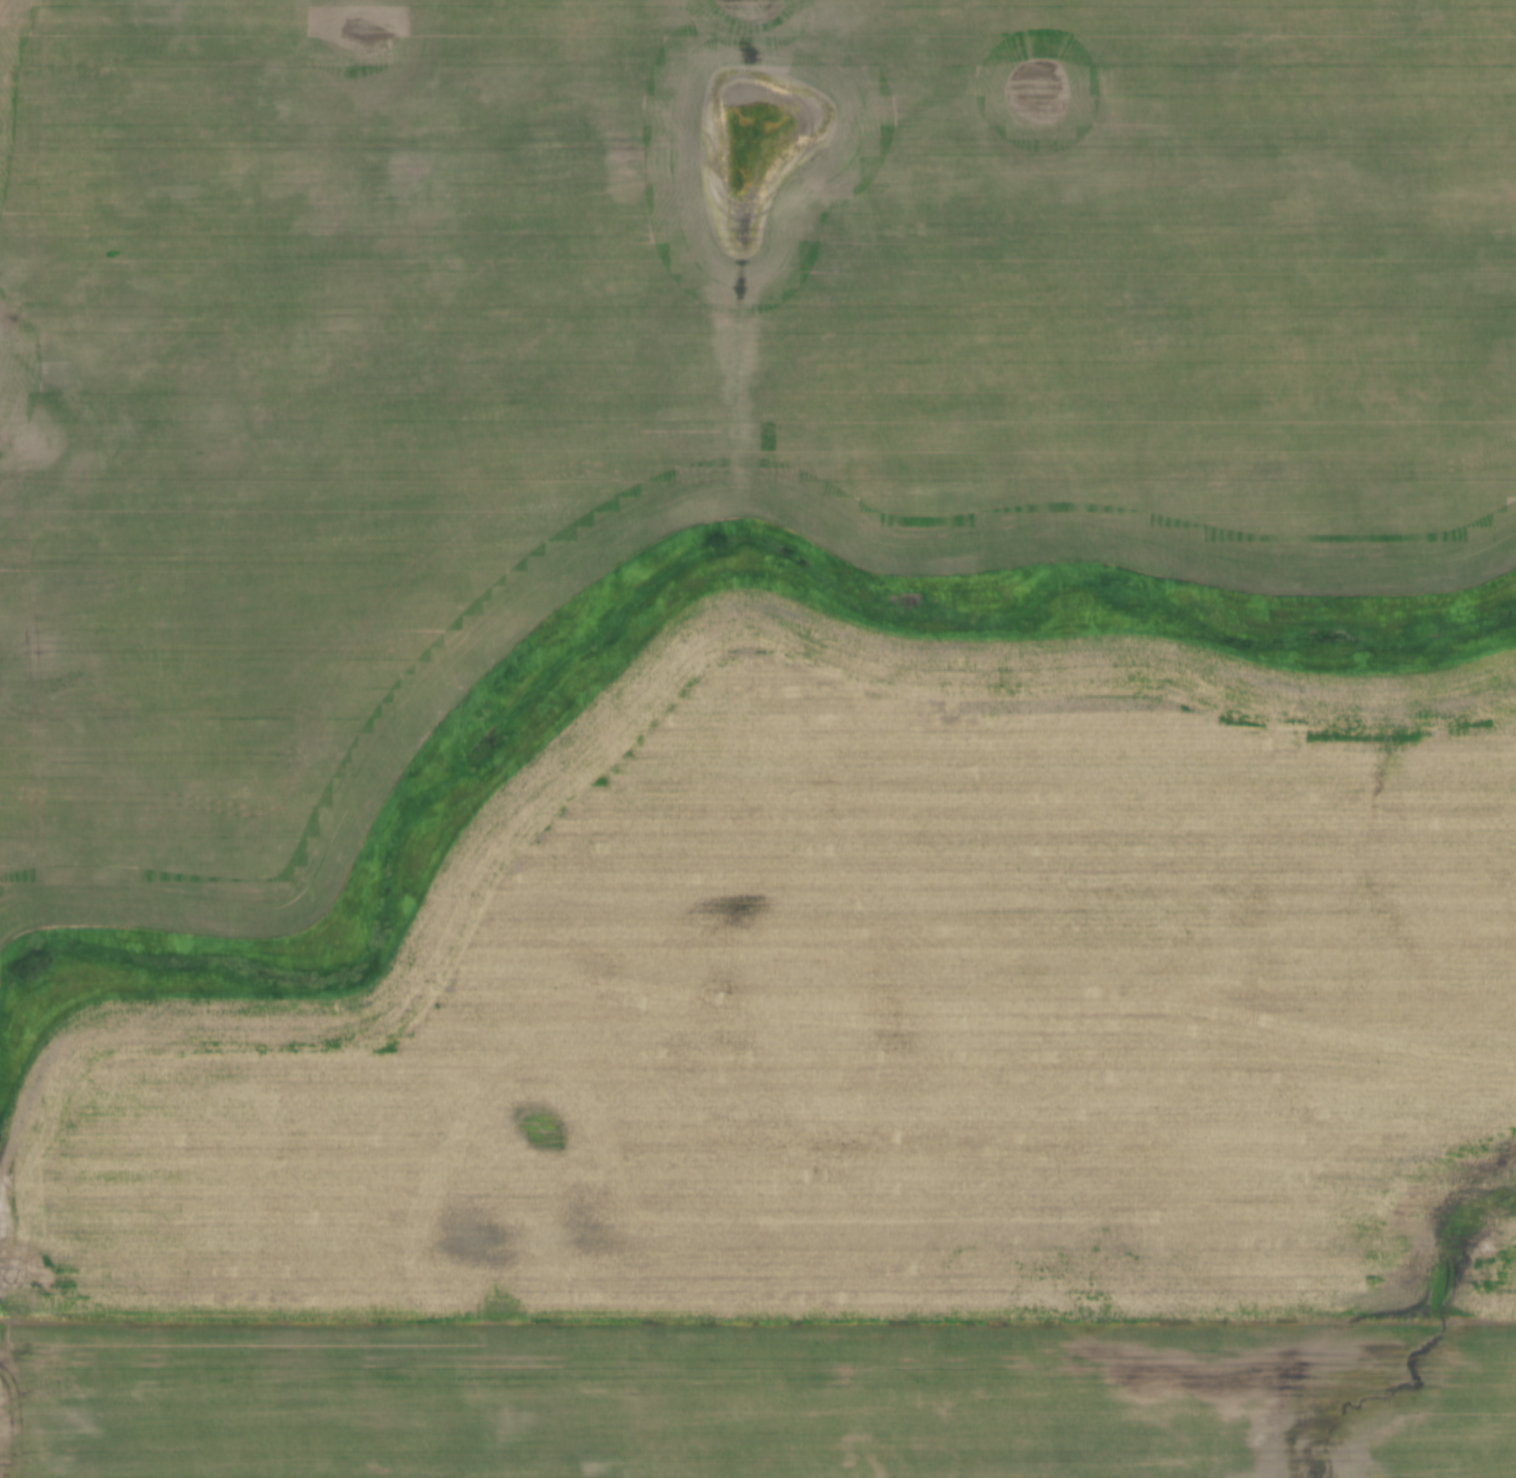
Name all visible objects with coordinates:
road: (758, 1322)

